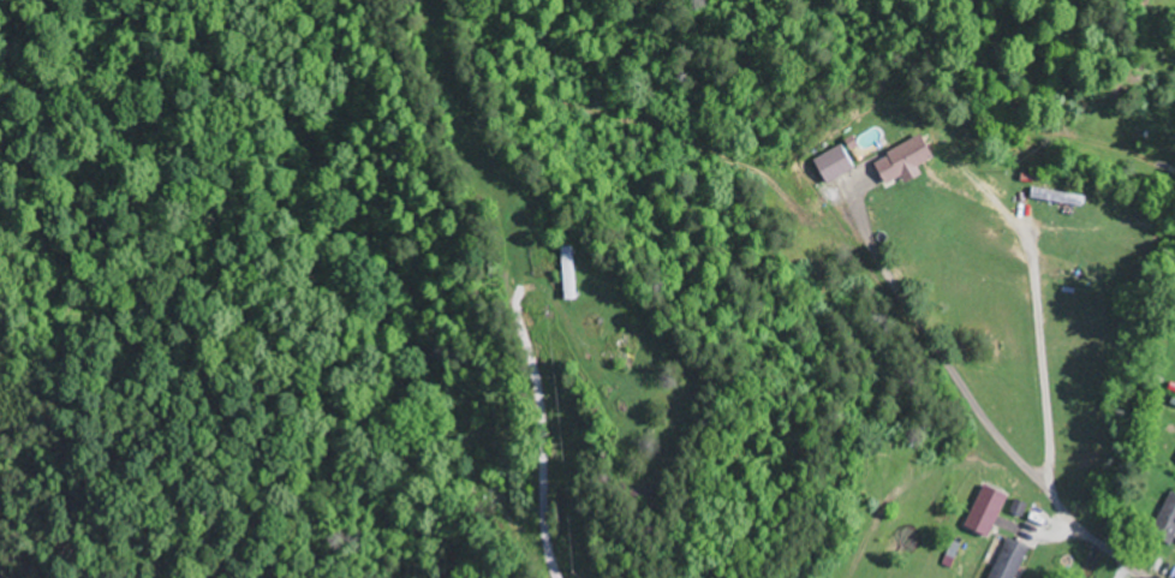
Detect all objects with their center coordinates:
road: (976, 7)
road: (1072, 70)
road: (1034, 127)
building: (908, 156)
building: (836, 162)
building: (1057, 196)
building: (569, 273)
building: (626, 341)
road: (968, 398)
building: (482, 431)
building: (1167, 518)
building: (1012, 560)

